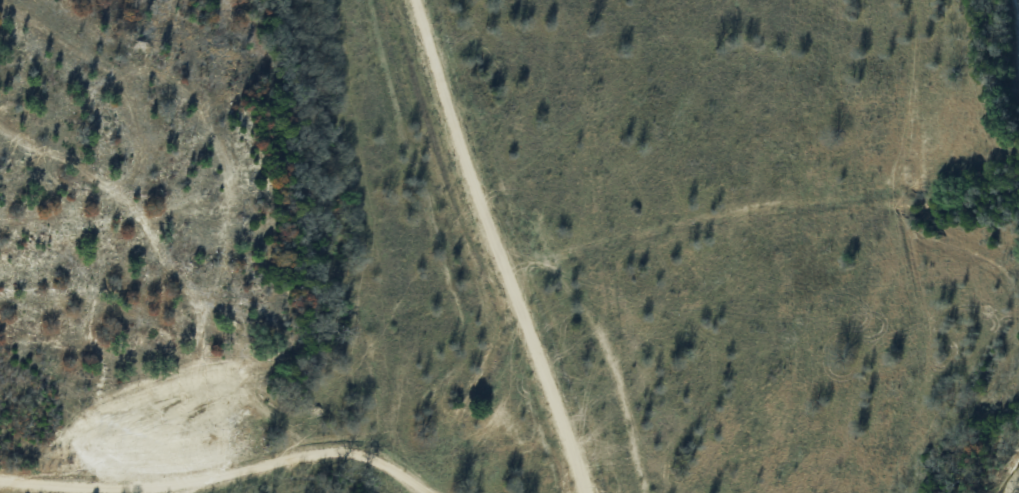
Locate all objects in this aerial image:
road: (496, 248)
road: (218, 471)

